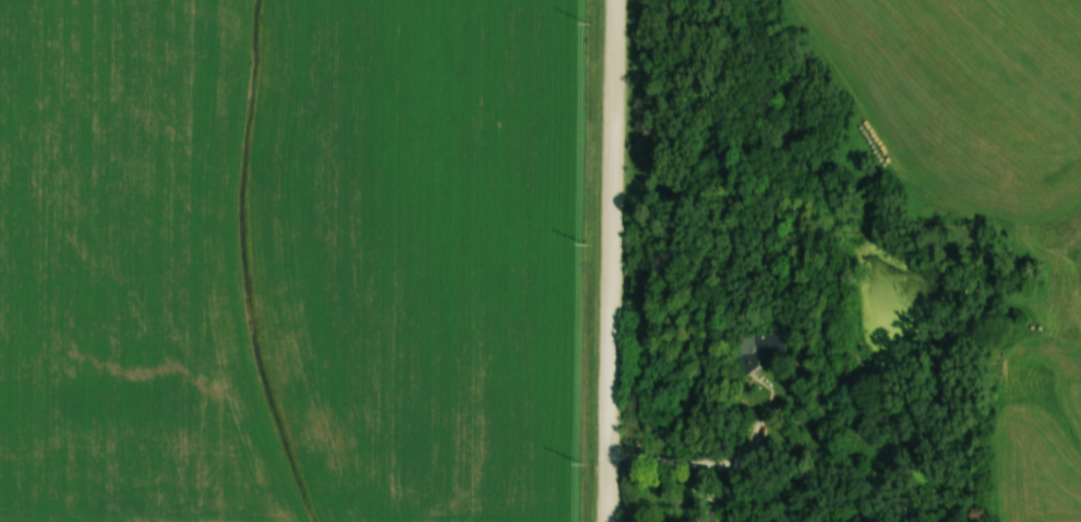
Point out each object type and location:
road: (612, 260)
building: (754, 349)
road: (722, 465)
building: (704, 512)

